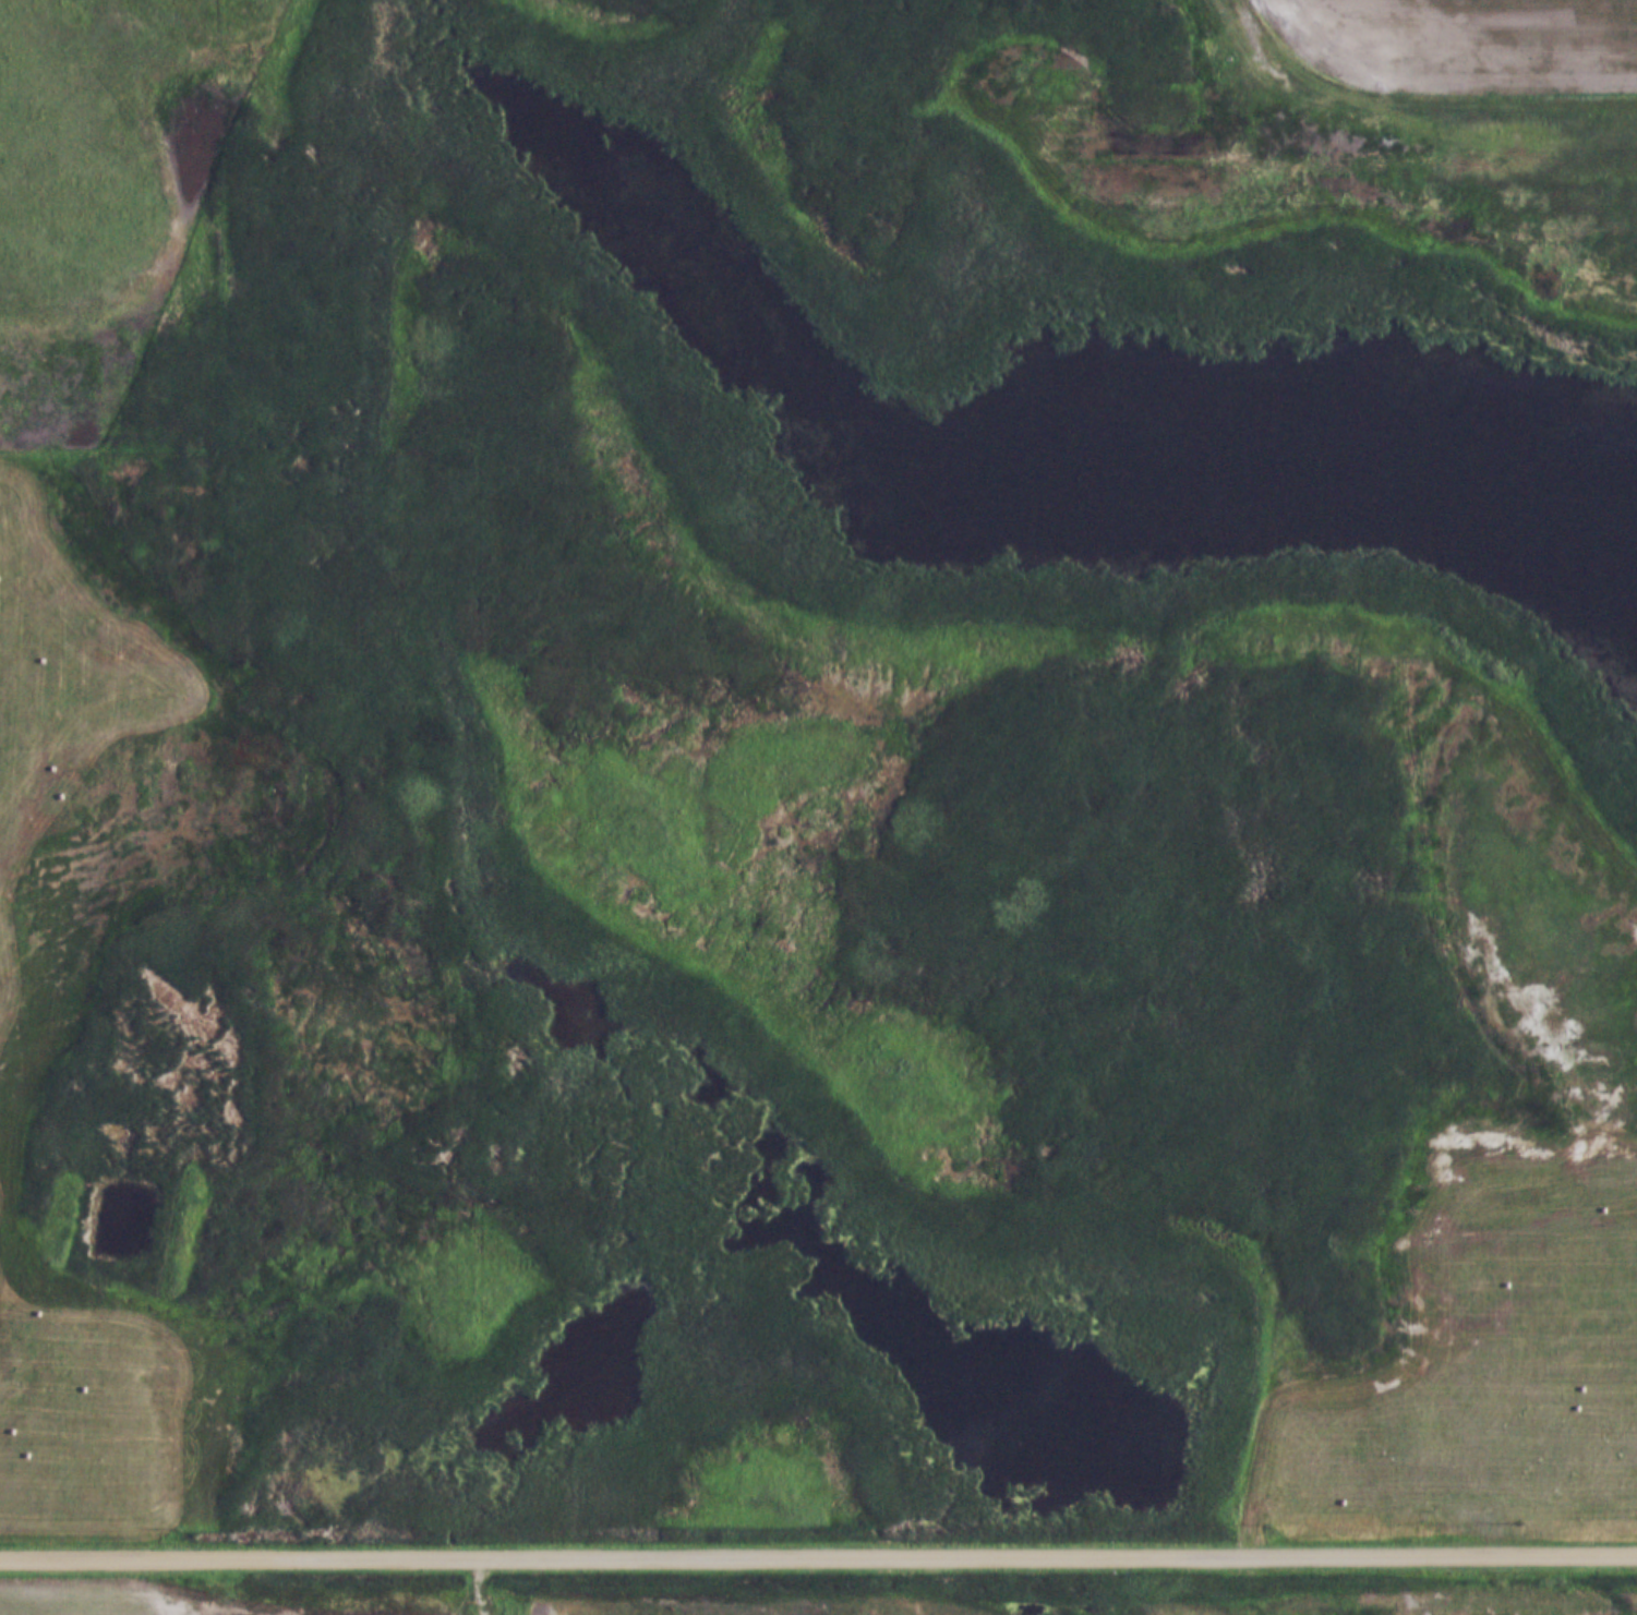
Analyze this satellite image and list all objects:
road: (818, 1556)

